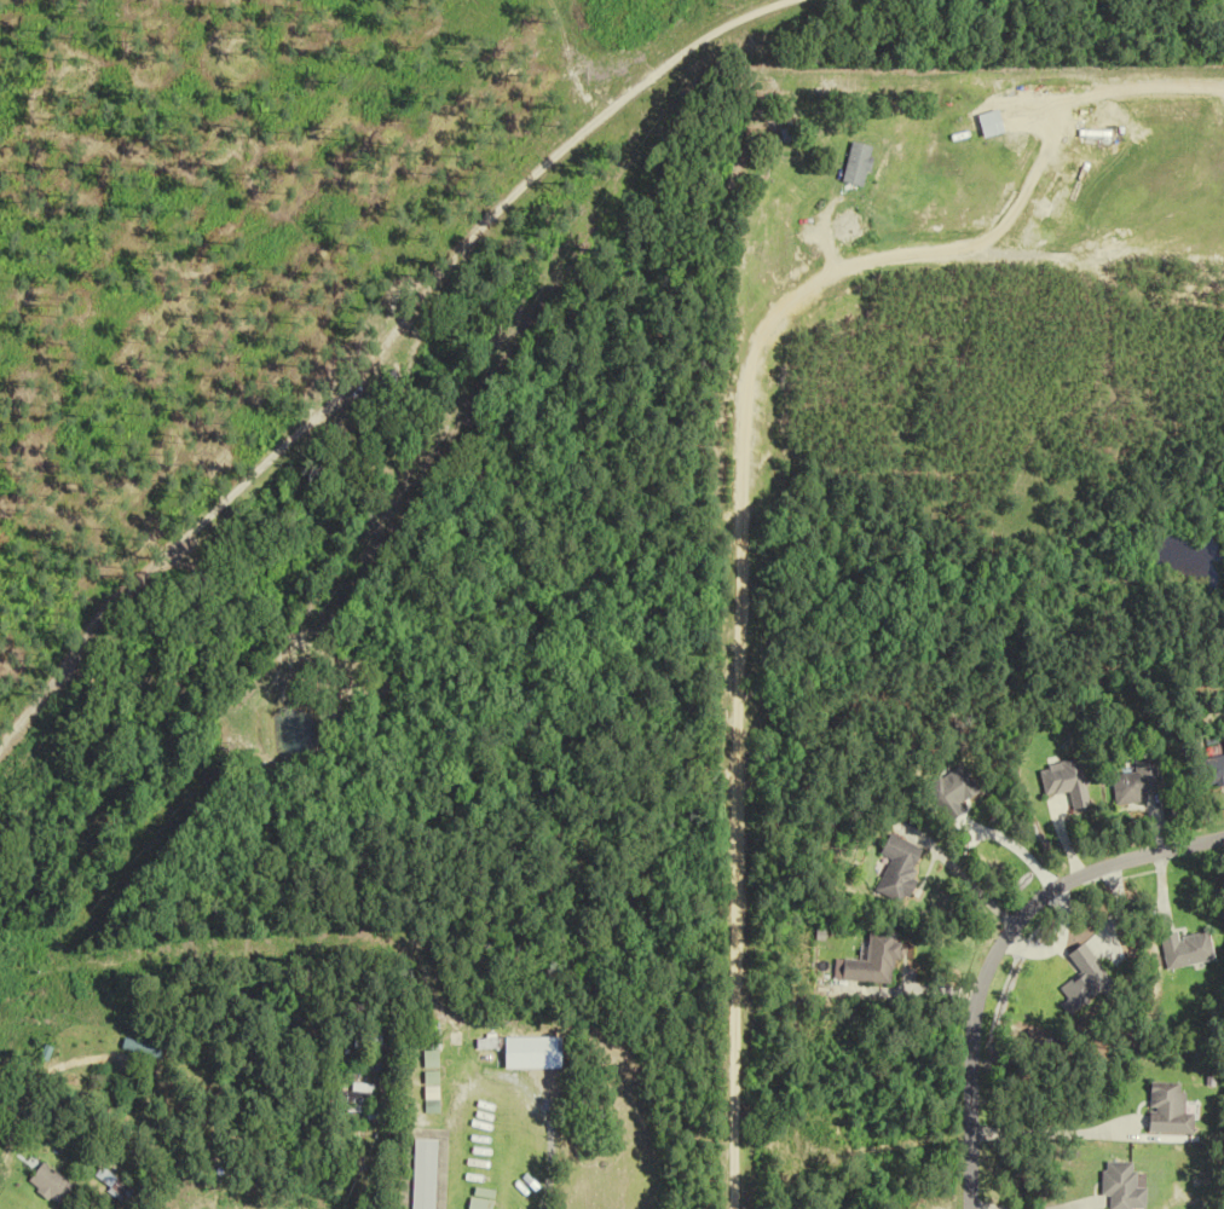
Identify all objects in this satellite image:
building: (975, 128)
building: (789, 134)
road: (375, 352)
road: (735, 573)
building: (1213, 768)
building: (1061, 782)
building: (1136, 782)
building: (951, 789)
building: (895, 868)
road: (966, 886)
building: (1184, 949)
road: (998, 951)
building: (870, 959)
building: (369, 1039)
building: (486, 1042)
building: (56, 1057)
building: (429, 1059)
building: (429, 1077)
building: (431, 1093)
building: (356, 1094)
building: (1166, 1109)
road: (1047, 1132)
building: (421, 1174)
building: (48, 1184)
building: (1120, 1186)
building: (112, 1187)
building: (478, 1198)

